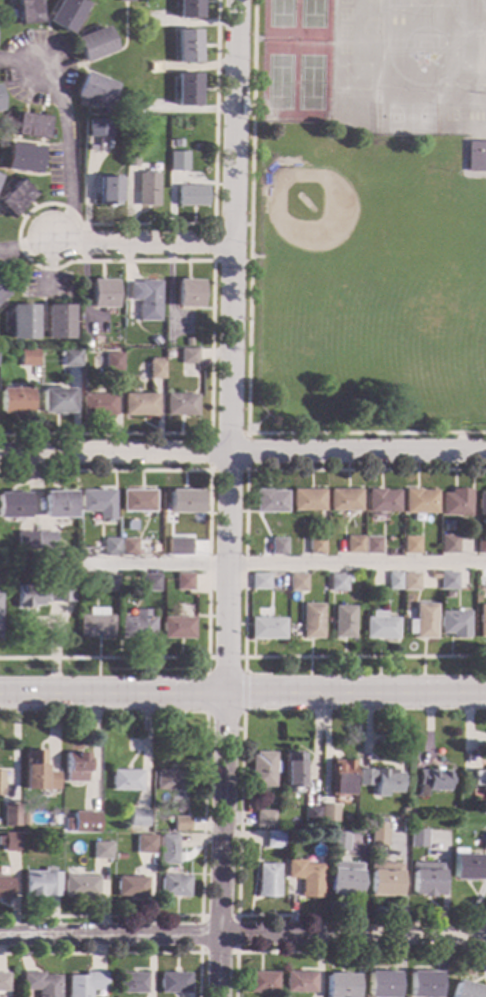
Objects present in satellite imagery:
building: (125, 1)
building: (188, 9)
building: (27, 12)
building: (67, 14)
park: (425, 24)
building: (94, 45)
building: (187, 47)
park: (436, 49)
park: (295, 60)
building: (95, 90)
building: (186, 90)
building: (0, 108)
road: (435, 115)
park: (411, 118)
building: (31, 126)
building: (98, 128)
building: (177, 144)
building: (476, 157)
road: (461, 158)
building: (22, 159)
building: (131, 159)
road: (68, 161)
building: (178, 162)
building: (146, 189)
building: (109, 191)
building: (192, 196)
building: (15, 198)
park: (324, 231)
road: (142, 240)
road: (73, 261)
park: (368, 283)
building: (3, 293)
building: (103, 294)
building: (189, 294)
park: (463, 295)
building: (147, 300)
park: (344, 302)
building: (24, 322)
building: (59, 323)
road: (248, 336)
building: (139, 343)
building: (87, 344)
building: (189, 344)
building: (189, 357)
building: (29, 358)
building: (71, 358)
building: (113, 362)
building: (156, 369)
park: (482, 370)
building: (15, 401)
building: (57, 401)
building: (98, 405)
building: (141, 405)
building: (182, 405)
road: (256, 424)
road: (243, 456)
road: (209, 471)
road: (227, 498)
building: (345, 500)
building: (271, 501)
building: (308, 501)
building: (383, 501)
building: (98, 502)
building: (138, 502)
building: (185, 502)
building: (420, 502)
building: (456, 504)
building: (482, 504)
building: (14, 505)
building: (59, 505)
building: (26, 541)
building: (46, 541)
building: (355, 545)
building: (372, 545)
building: (449, 545)
building: (316, 546)
building: (411, 546)
building: (482, 546)
building: (111, 547)
building: (179, 547)
building: (279, 547)
building: (129, 548)
road: (208, 563)
road: (283, 565)
road: (243, 566)
building: (394, 581)
building: (448, 581)
building: (109, 582)
building: (184, 582)
building: (260, 582)
building: (410, 582)
building: (150, 583)
building: (298, 583)
building: (338, 583)
building: (322, 590)
building: (43, 595)
building: (312, 622)
building: (482, 622)
building: (343, 623)
building: (423, 623)
building: (95, 624)
building: (455, 624)
building: (137, 626)
building: (381, 627)
building: (177, 628)
building: (267, 629)
road: (206, 667)
road: (242, 686)
road: (243, 693)
road: (222, 729)
building: (75, 766)
building: (262, 769)
building: (292, 769)
building: (38, 772)
building: (341, 776)
building: (480, 777)
building: (169, 779)
building: (380, 779)
building: (434, 779)
building: (125, 780)
building: (0, 782)
building: (311, 813)
building: (328, 813)
building: (11, 814)
building: (137, 818)
building: (264, 819)
building: (23, 820)
building: (86, 821)
building: (67, 823)
building: (180, 823)
building: (379, 837)
building: (419, 837)
building: (273, 839)
building: (11, 840)
building: (338, 840)
building: (484, 841)
building: (168, 842)
building: (144, 843)
road: (237, 844)
building: (100, 849)
building: (119, 856)
building: (466, 864)
building: (305, 876)
building: (343, 877)
building: (384, 878)
building: (426, 878)
building: (267, 879)
building: (41, 882)
building: (173, 884)
building: (79, 885)
building: (130, 886)
building: (6, 887)
road: (199, 901)
road: (241, 934)
road: (254, 952)
road: (121, 953)
road: (199, 953)
building: (3, 981)
building: (262, 981)
building: (298, 981)
building: (130, 982)
building: (173, 982)
building: (41, 983)
building: (84, 983)
building: (423, 983)
building: (382, 984)
building: (340, 985)
building: (466, 990)

